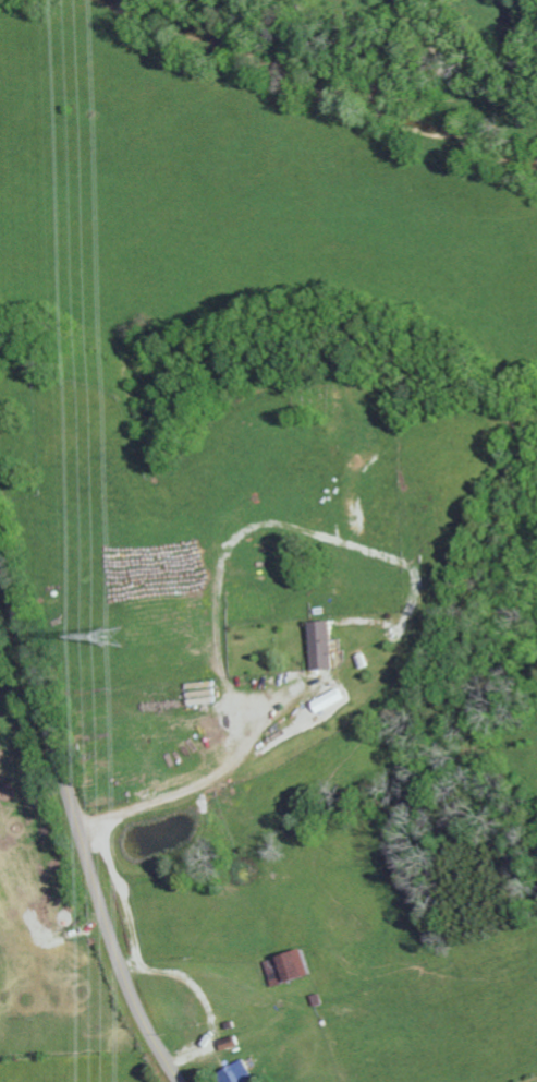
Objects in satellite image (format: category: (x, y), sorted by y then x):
power tower: (107, 636)
building: (326, 645)
building: (335, 700)
road: (194, 790)
road: (76, 821)
building: (296, 966)
building: (241, 1073)

